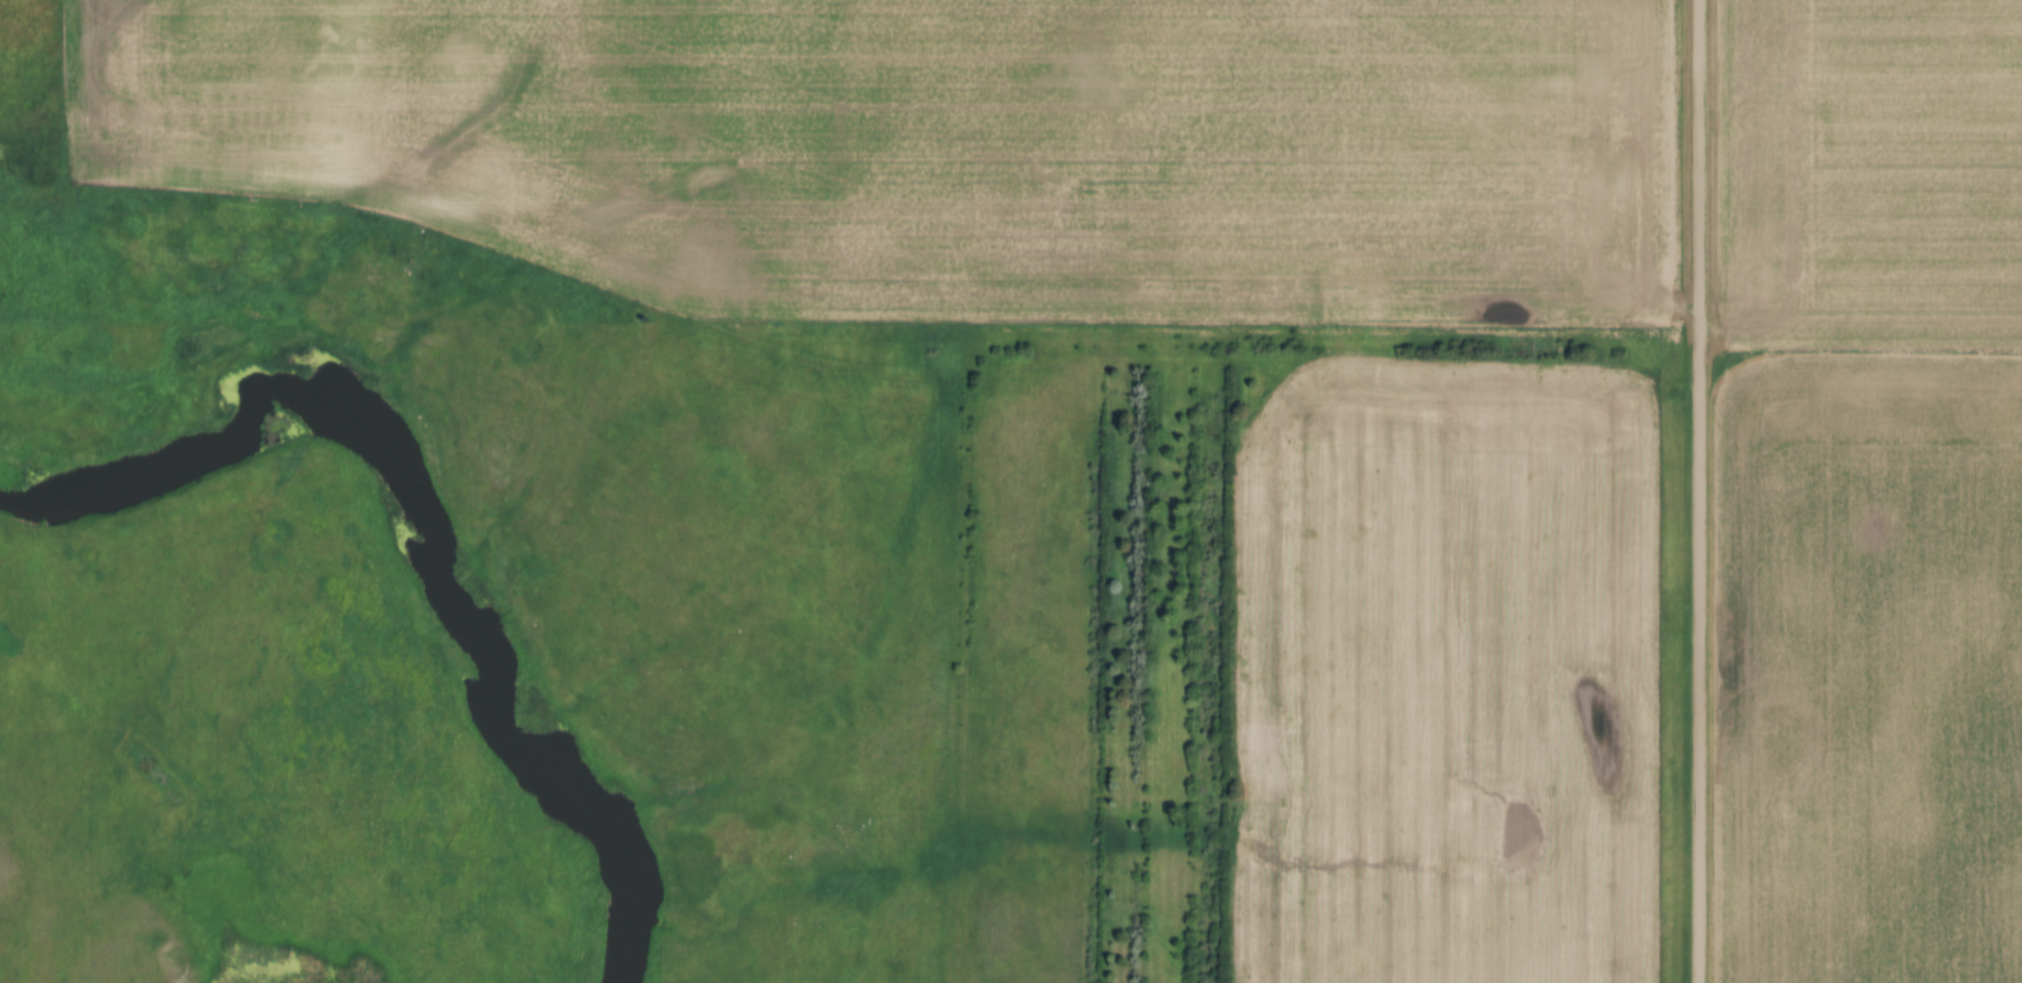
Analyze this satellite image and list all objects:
road: (1702, 491)

